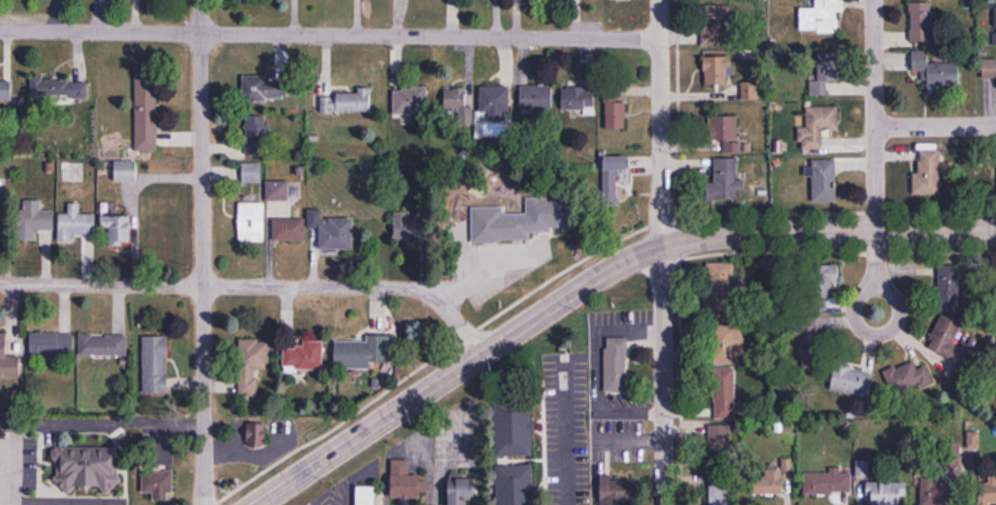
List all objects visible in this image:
building: (821, 16)
building: (921, 21)
building: (718, 24)
road: (328, 35)
building: (938, 68)
building: (989, 68)
building: (717, 69)
building: (824, 70)
building: (263, 86)
building: (6, 88)
building: (59, 88)
building: (536, 97)
building: (578, 98)
building: (410, 99)
building: (353, 100)
building: (456, 100)
building: (495, 101)
building: (327, 104)
building: (616, 111)
building: (146, 121)
building: (818, 125)
road: (935, 125)
building: (725, 131)
building: (256, 135)
building: (125, 169)
road: (875, 171)
building: (928, 171)
building: (251, 172)
building: (613, 176)
building: (725, 179)
building: (823, 179)
building: (284, 190)
building: (33, 219)
building: (251, 221)
building: (75, 222)
building: (507, 226)
building: (411, 227)
building: (118, 228)
building: (289, 228)
building: (332, 229)
road: (203, 252)
road: (659, 252)
building: (825, 279)
road: (593, 281)
road: (254, 286)
building: (950, 286)
building: (946, 336)
building: (52, 343)
building: (809, 344)
building: (104, 345)
building: (725, 347)
building: (362, 353)
building: (303, 356)
building: (8, 361)
building: (155, 364)
building: (616, 365)
building: (252, 368)
building: (907, 378)
building: (852, 382)
building: (724, 393)
road: (102, 416)
building: (514, 428)
building: (256, 433)
building: (719, 446)
building: (86, 467)
building: (771, 480)
building: (405, 481)
building: (157, 483)
building: (827, 483)
building: (514, 484)
building: (462, 490)
building: (939, 490)
building: (619, 491)
building: (887, 493)
building: (720, 494)
building: (987, 494)
building: (368, 496)

